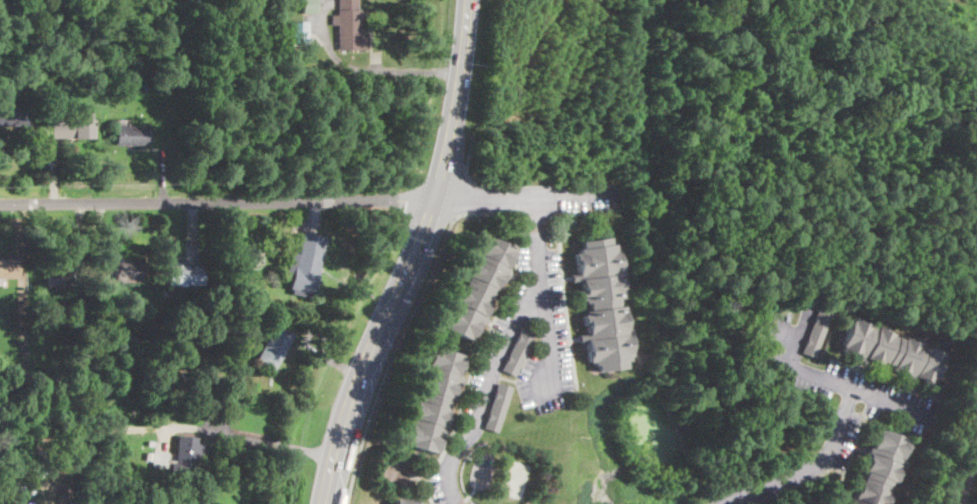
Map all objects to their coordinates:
building: (309, 6)
building: (291, 10)
building: (349, 26)
building: (138, 63)
building: (90, 66)
road: (407, 70)
building: (13, 113)
building: (73, 126)
building: (131, 135)
road: (466, 159)
road: (464, 193)
road: (523, 196)
road: (217, 202)
road: (580, 211)
road: (535, 214)
road: (413, 257)
building: (225, 259)
building: (251, 259)
building: (307, 264)
building: (10, 268)
building: (119, 272)
building: (183, 275)
building: (59, 276)
building: (475, 287)
road: (562, 300)
building: (599, 305)
building: (139, 306)
building: (194, 306)
building: (161, 314)
road: (403, 327)
road: (546, 334)
building: (816, 334)
building: (226, 338)
building: (275, 347)
road: (496, 351)
building: (517, 351)
building: (891, 352)
road: (474, 358)
road: (851, 386)
building: (430, 400)
building: (497, 407)
building: (34, 424)
building: (151, 442)
road: (270, 442)
building: (185, 454)
building: (161, 460)
road: (810, 466)
building: (879, 469)
railway: (967, 477)
building: (397, 503)
building: (403, 503)

